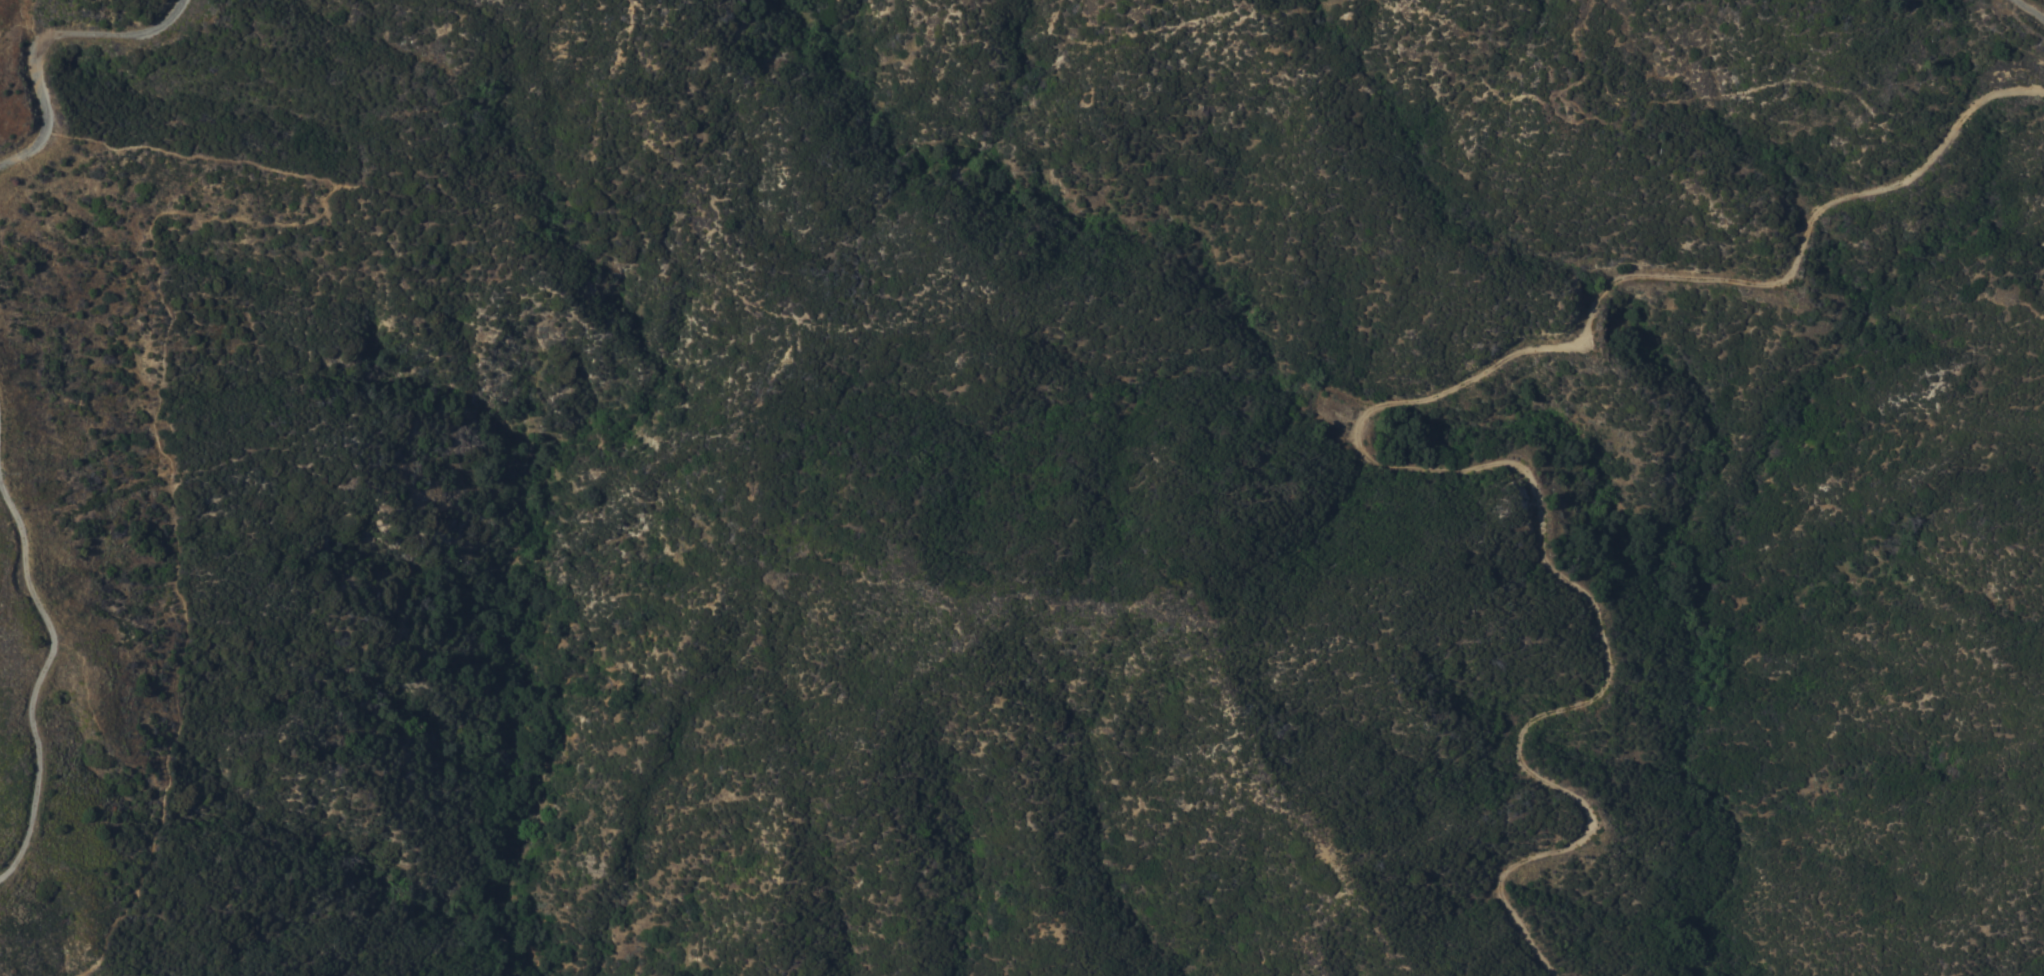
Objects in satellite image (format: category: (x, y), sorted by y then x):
road: (2032, 8)
road: (54, 41)
road: (0, 421)
road: (1410, 468)
road: (39, 675)

